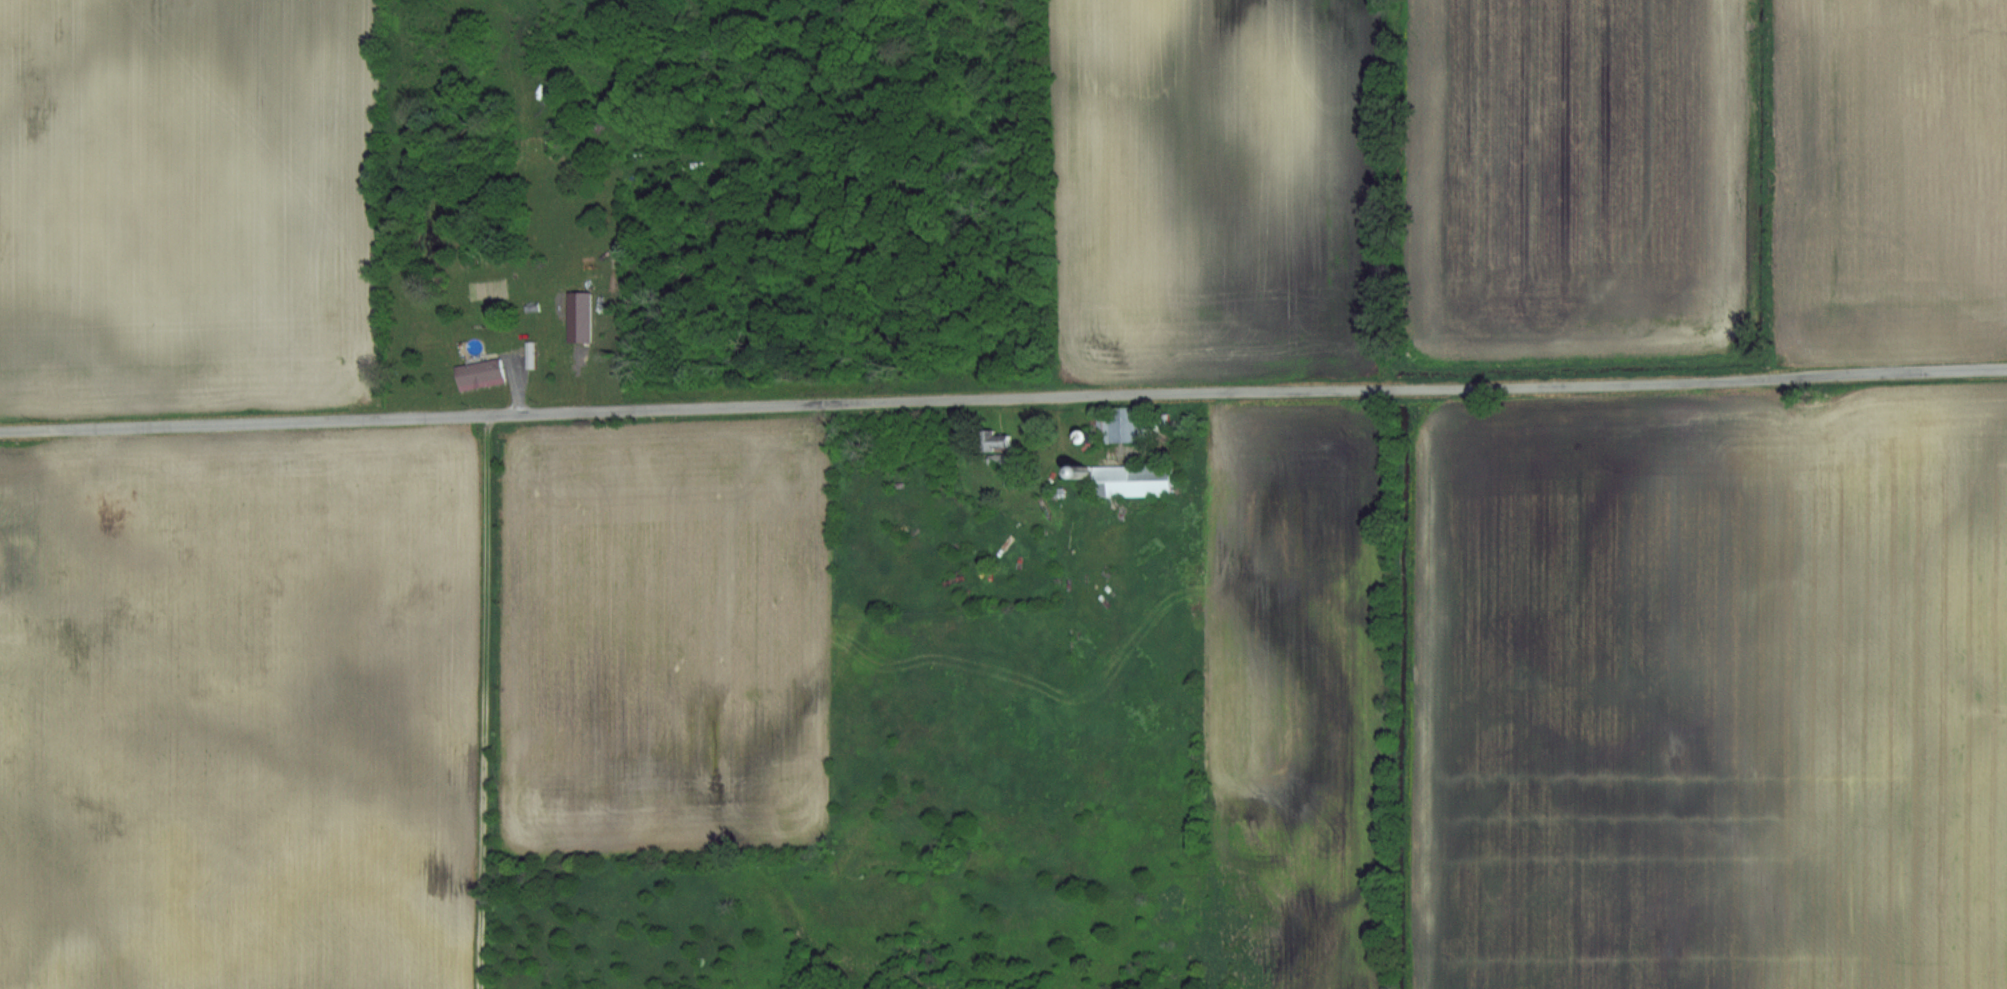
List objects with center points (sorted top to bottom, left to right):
building: (578, 317)
building: (478, 374)
road: (1003, 397)
building: (1128, 426)
building: (996, 441)
building: (1125, 480)

